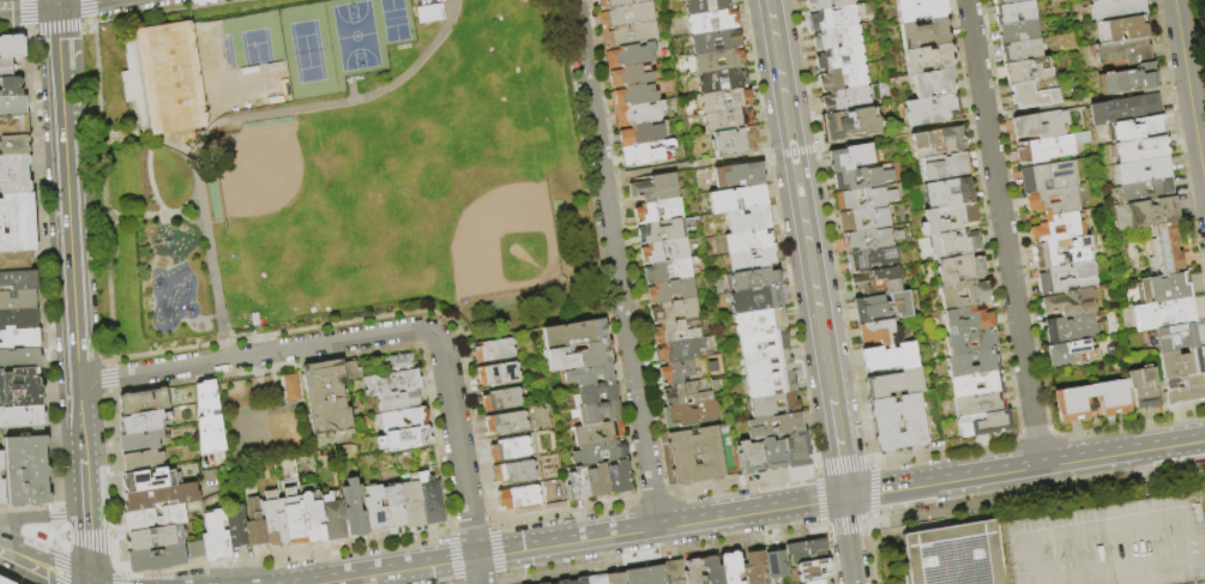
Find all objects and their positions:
road: (55, 0)
road: (60, 0)
traffic signals: (56, 1)
building: (1007, 1)
building: (1101, 1)
building: (619, 2)
road: (28, 4)
building: (827, 5)
building: (707, 6)
building: (920, 10)
building: (1116, 10)
road: (91, 11)
building: (426, 11)
road: (25, 13)
building: (1016, 13)
building: (627, 16)
building: (835, 18)
park: (397, 20)
building: (712, 22)
road: (91, 28)
road: (60, 29)
building: (1122, 29)
building: (1018, 31)
road: (31, 32)
building: (924, 34)
building: (631, 35)
park: (359, 37)
building: (838, 38)
building: (716, 42)
building: (12, 47)
building: (1022, 49)
park: (311, 52)
building: (1126, 53)
building: (628, 56)
building: (841, 59)
building: (928, 59)
park: (260, 61)
building: (718, 61)
building: (8, 67)
park: (222, 67)
building: (1029, 70)
building: (631, 77)
building: (162, 78)
building: (843, 79)
building: (722, 80)
building: (1128, 80)
road: (98, 82)
road: (60, 84)
building: (933, 84)
building: (11, 86)
building: (1034, 94)
road: (1189, 95)
building: (633, 96)
building: (846, 100)
building: (725, 101)
building: (13, 106)
building: (1125, 109)
building: (933, 110)
building: (640, 114)
road: (237, 118)
building: (728, 120)
building: (850, 124)
building: (14, 125)
building: (1041, 125)
building: (1137, 130)
road: (893, 132)
building: (641, 134)
road: (151, 142)
building: (735, 142)
building: (939, 143)
building: (14, 144)
building: (1050, 147)
building: (1141, 150)
building: (649, 153)
building: (850, 157)
building: (945, 167)
park: (342, 168)
park: (255, 170)
building: (1128, 171)
building: (14, 174)
building: (739, 175)
building: (1049, 176)
road: (104, 179)
building: (862, 179)
road: (151, 183)
building: (656, 188)
building: (1141, 191)
building: (948, 193)
building: (736, 199)
road: (800, 199)
building: (866, 199)
road: (186, 203)
building: (659, 211)
building: (1146, 213)
road: (157, 215)
building: (1056, 215)
building: (935, 218)
building: (748, 221)
building: (17, 223)
building: (879, 223)
building: (662, 231)
road: (1002, 231)
building: (886, 241)
park: (502, 242)
building: (957, 243)
building: (1164, 248)
building: (665, 251)
building: (751, 251)
building: (1044, 252)
building: (874, 260)
building: (16, 261)
road: (614, 263)
road: (41, 267)
building: (960, 269)
building: (669, 271)
road: (71, 273)
building: (1086, 278)
building: (754, 279)
building: (19, 281)
building: (876, 282)
building: (1163, 288)
building: (671, 291)
road: (110, 293)
building: (965, 295)
building: (757, 300)
building: (18, 301)
building: (1070, 303)
building: (882, 307)
building: (675, 311)
building: (1165, 314)
building: (18, 320)
building: (759, 321)
building: (968, 321)
building: (1071, 329)
building: (679, 331)
building: (880, 332)
building: (576, 333)
building: (20, 338)
building: (1175, 338)
building: (764, 342)
building: (971, 343)
building: (495, 351)
building: (681, 351)
road: (255, 353)
building: (1073, 354)
building: (579, 357)
building: (891, 357)
building: (20, 359)
building: (397, 362)
building: (767, 363)
building: (989, 363)
building: (1180, 365)
building: (687, 371)
building: (499, 375)
building: (590, 375)
road: (110, 378)
building: (392, 384)
building: (771, 384)
building: (894, 384)
building: (976, 384)
building: (288, 386)
building: (1144, 387)
building: (20, 389)
building: (1183, 389)
building: (597, 393)
building: (685, 395)
building: (330, 396)
building: (399, 401)
building: (502, 401)
building: (144, 402)
building: (980, 404)
building: (775, 405)
building: (1072, 405)
building: (600, 413)
building: (689, 414)
park: (265, 415)
building: (22, 417)
building: (209, 419)
building: (404, 420)
road: (80, 421)
building: (145, 422)
park: (234, 422)
building: (898, 423)
building: (984, 423)
building: (507, 425)
building: (775, 426)
building: (598, 434)
building: (405, 439)
building: (141, 440)
road: (839, 447)
building: (511, 450)
building: (796, 450)
building: (600, 453)
building: (773, 454)
building: (695, 456)
road: (459, 458)
building: (751, 458)
building: (144, 462)
road: (114, 465)
road: (1024, 468)
building: (25, 471)
building: (516, 472)
building: (149, 480)
building: (598, 481)
building: (1, 483)
road: (83, 487)
traffic signals: (843, 496)
building: (161, 498)
building: (430, 499)
building: (519, 499)
building: (412, 502)
building: (394, 507)
building: (355, 508)
building: (375, 511)
building: (333, 516)
road: (56, 517)
building: (293, 517)
road: (42, 518)
building: (312, 518)
building: (155, 519)
building: (273, 519)
building: (255, 525)
road: (1101, 528)
building: (236, 529)
road: (64, 531)
road: (91, 535)
road: (56, 537)
building: (216, 537)
building: (155, 538)
road: (570, 540)
road: (844, 540)
road: (62, 542)
building: (1110, 543)
parking lot: (1110, 543)
road: (1197, 543)
road: (44, 544)
road: (86, 548)
building: (807, 552)
road: (1189, 553)
road: (269, 555)
building: (953, 555)
building: (157, 558)
road: (56, 559)
road: (41, 565)
building: (776, 566)
building: (730, 567)
building: (755, 568)
building: (711, 570)
building: (812, 571)
road: (58, 572)
building: (674, 572)
building: (692, 572)
road: (1119, 572)
building: (646, 576)
road: (121, 578)
building: (615, 578)
road: (58, 579)
building: (596, 579)
building: (579, 580)
building: (4, 582)
building: (562, 582)
parking lot: (1195, 582)
building: (546, 583)
building: (821, 583)

